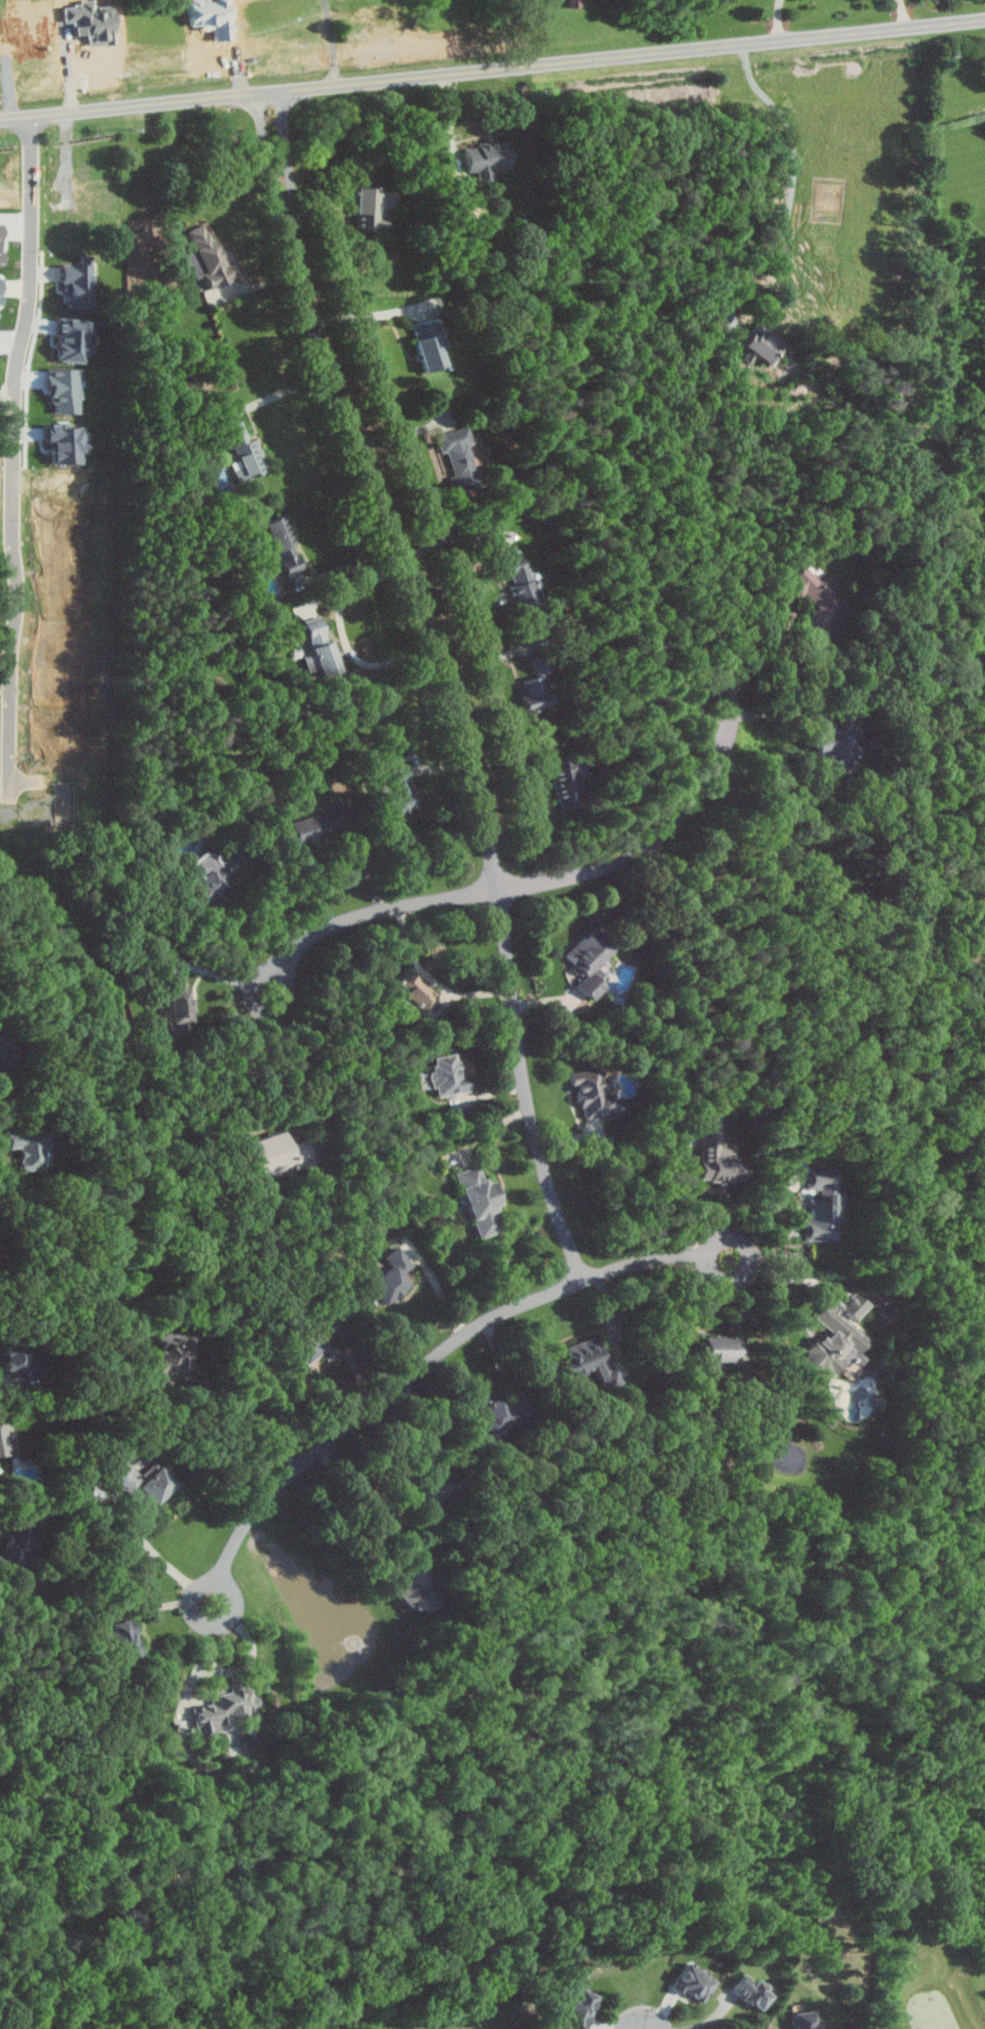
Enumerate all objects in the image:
road: (906, 14)
road: (782, 20)
road: (334, 42)
road: (492, 70)
building: (487, 154)
road: (795, 178)
building: (96, 197)
building: (368, 208)
building: (208, 256)
building: (79, 283)
building: (0, 291)
road: (361, 316)
building: (74, 338)
building: (430, 342)
building: (765, 344)
road: (284, 392)
road: (406, 433)
road: (8, 448)
building: (459, 453)
road: (458, 535)
building: (285, 544)
road: (355, 561)
building: (521, 581)
building: (814, 593)
road: (759, 630)
road: (346, 632)
building: (321, 647)
road: (449, 680)
building: (538, 686)
road: (776, 710)
building: (839, 744)
building: (566, 783)
building: (401, 798)
building: (313, 827)
road: (652, 842)
road: (369, 861)
building: (211, 875)
road: (281, 893)
road: (366, 914)
building: (591, 961)
road: (435, 978)
building: (414, 993)
building: (179, 1001)
building: (4, 1052)
road: (303, 1067)
building: (449, 1075)
building: (594, 1093)
road: (8, 1121)
building: (27, 1148)
building: (276, 1154)
building: (718, 1155)
road: (687, 1190)
building: (481, 1201)
building: (824, 1204)
road: (776, 1214)
road: (785, 1273)
building: (393, 1276)
road: (613, 1322)
building: (836, 1337)
building: (313, 1346)
building: (720, 1350)
building: (15, 1357)
building: (586, 1358)
road: (429, 1362)
road: (8, 1386)
road: (211, 1392)
building: (878, 1400)
building: (496, 1413)
road: (176, 1417)
road: (243, 1417)
building: (3, 1435)
road: (274, 1443)
road: (401, 1469)
building: (139, 1480)
building: (432, 1489)
road: (17, 1510)
road: (415, 1520)
building: (21, 1540)
road: (159, 1553)
building: (415, 1595)
road: (165, 1603)
building: (126, 1637)
road: (254, 1652)
road: (201, 1665)
road: (209, 1672)
building: (225, 1705)
building: (692, 1983)
building: (749, 1991)
building: (578, 2007)
road: (714, 2016)
building: (803, 2021)

